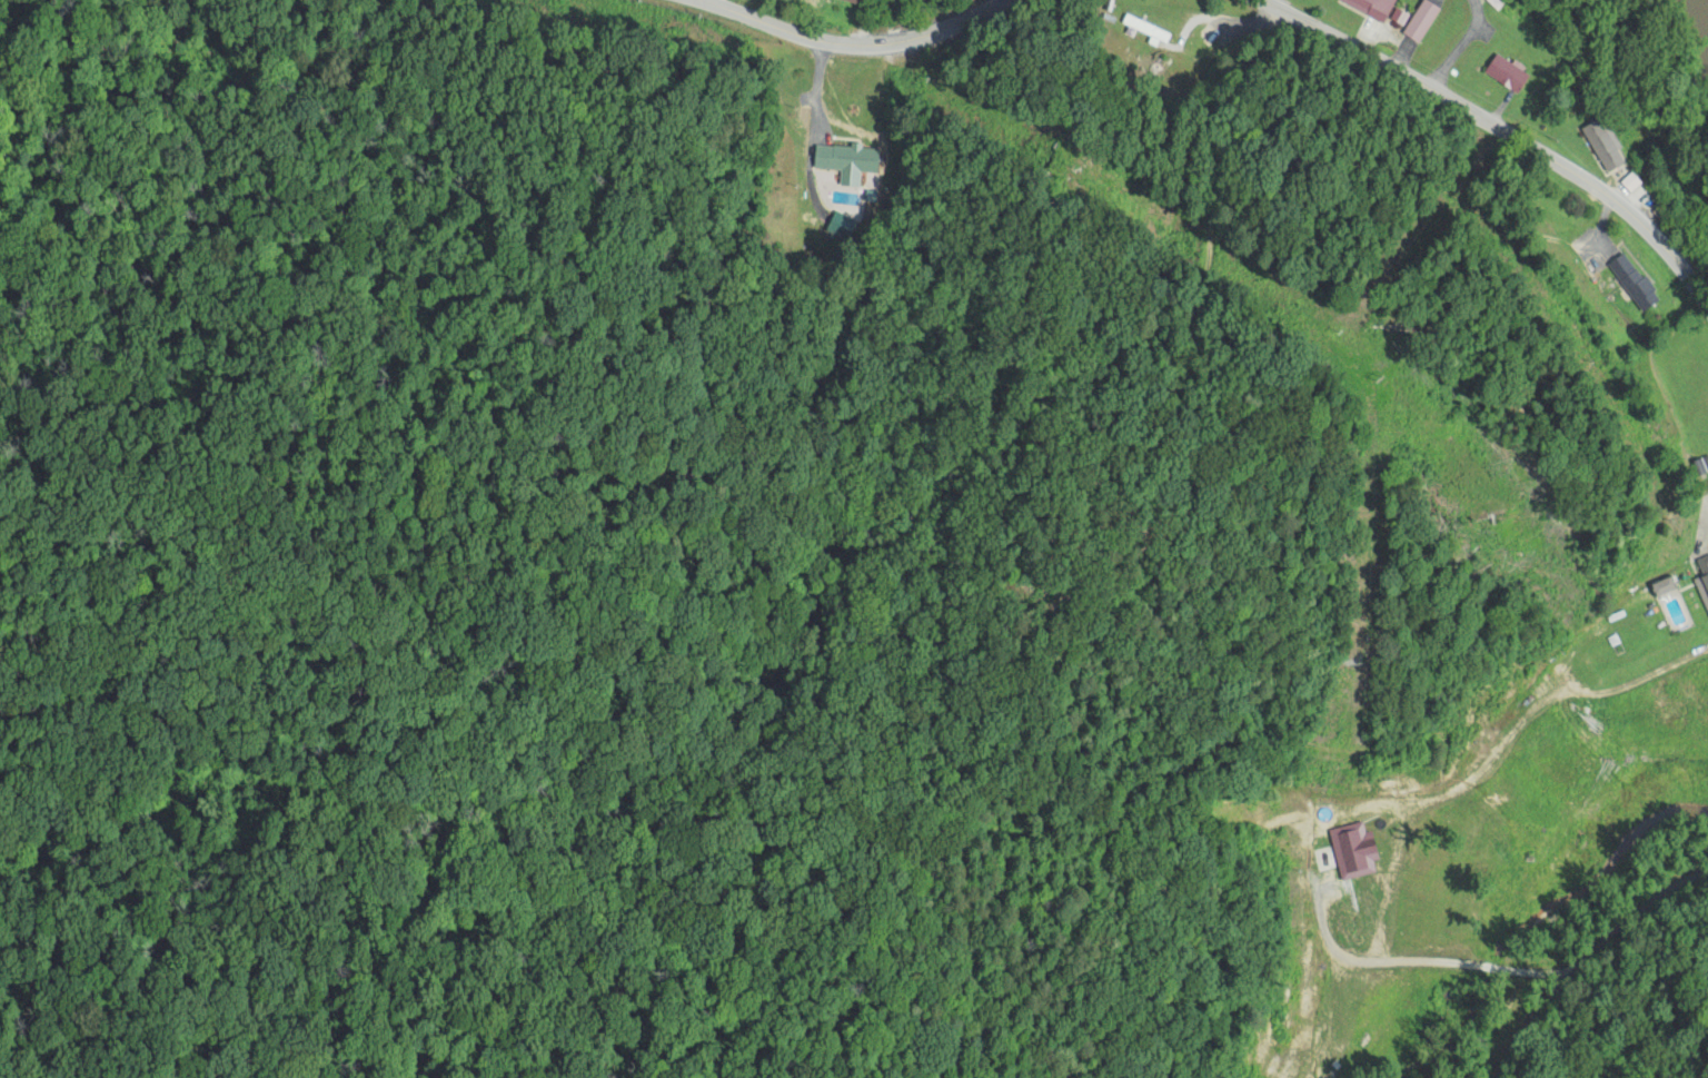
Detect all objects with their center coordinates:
building: (804, 1)
building: (1371, 7)
building: (1420, 21)
building: (1148, 29)
road: (854, 44)
building: (1506, 72)
road: (1498, 129)
building: (1601, 145)
building: (852, 160)
building: (1628, 182)
building: (1635, 281)
building: (1702, 580)
building: (1351, 850)
road: (1581, 976)

